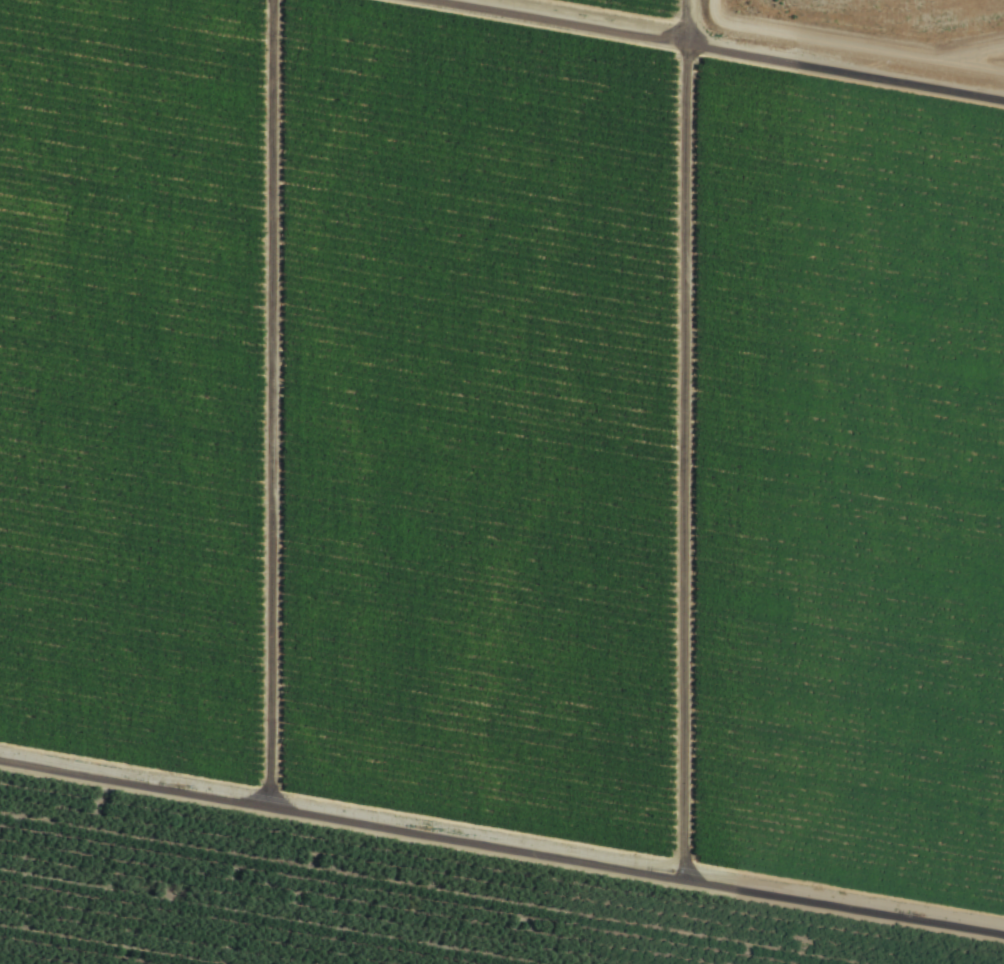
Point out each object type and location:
crop: (502, 482)
road: (458, 877)

